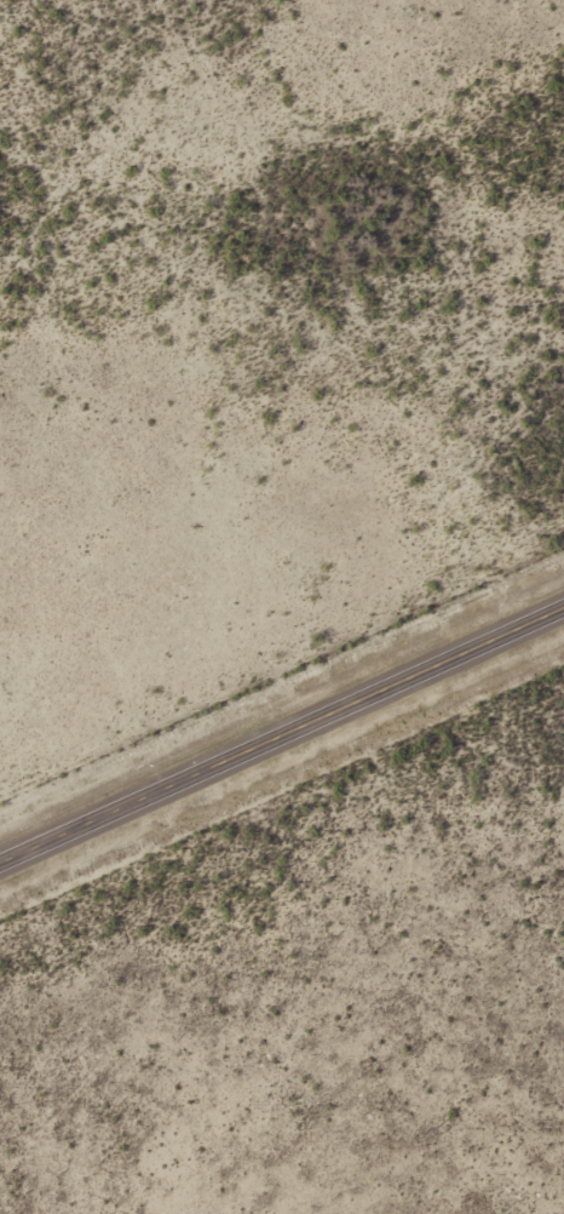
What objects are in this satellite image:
road: (282, 740)

